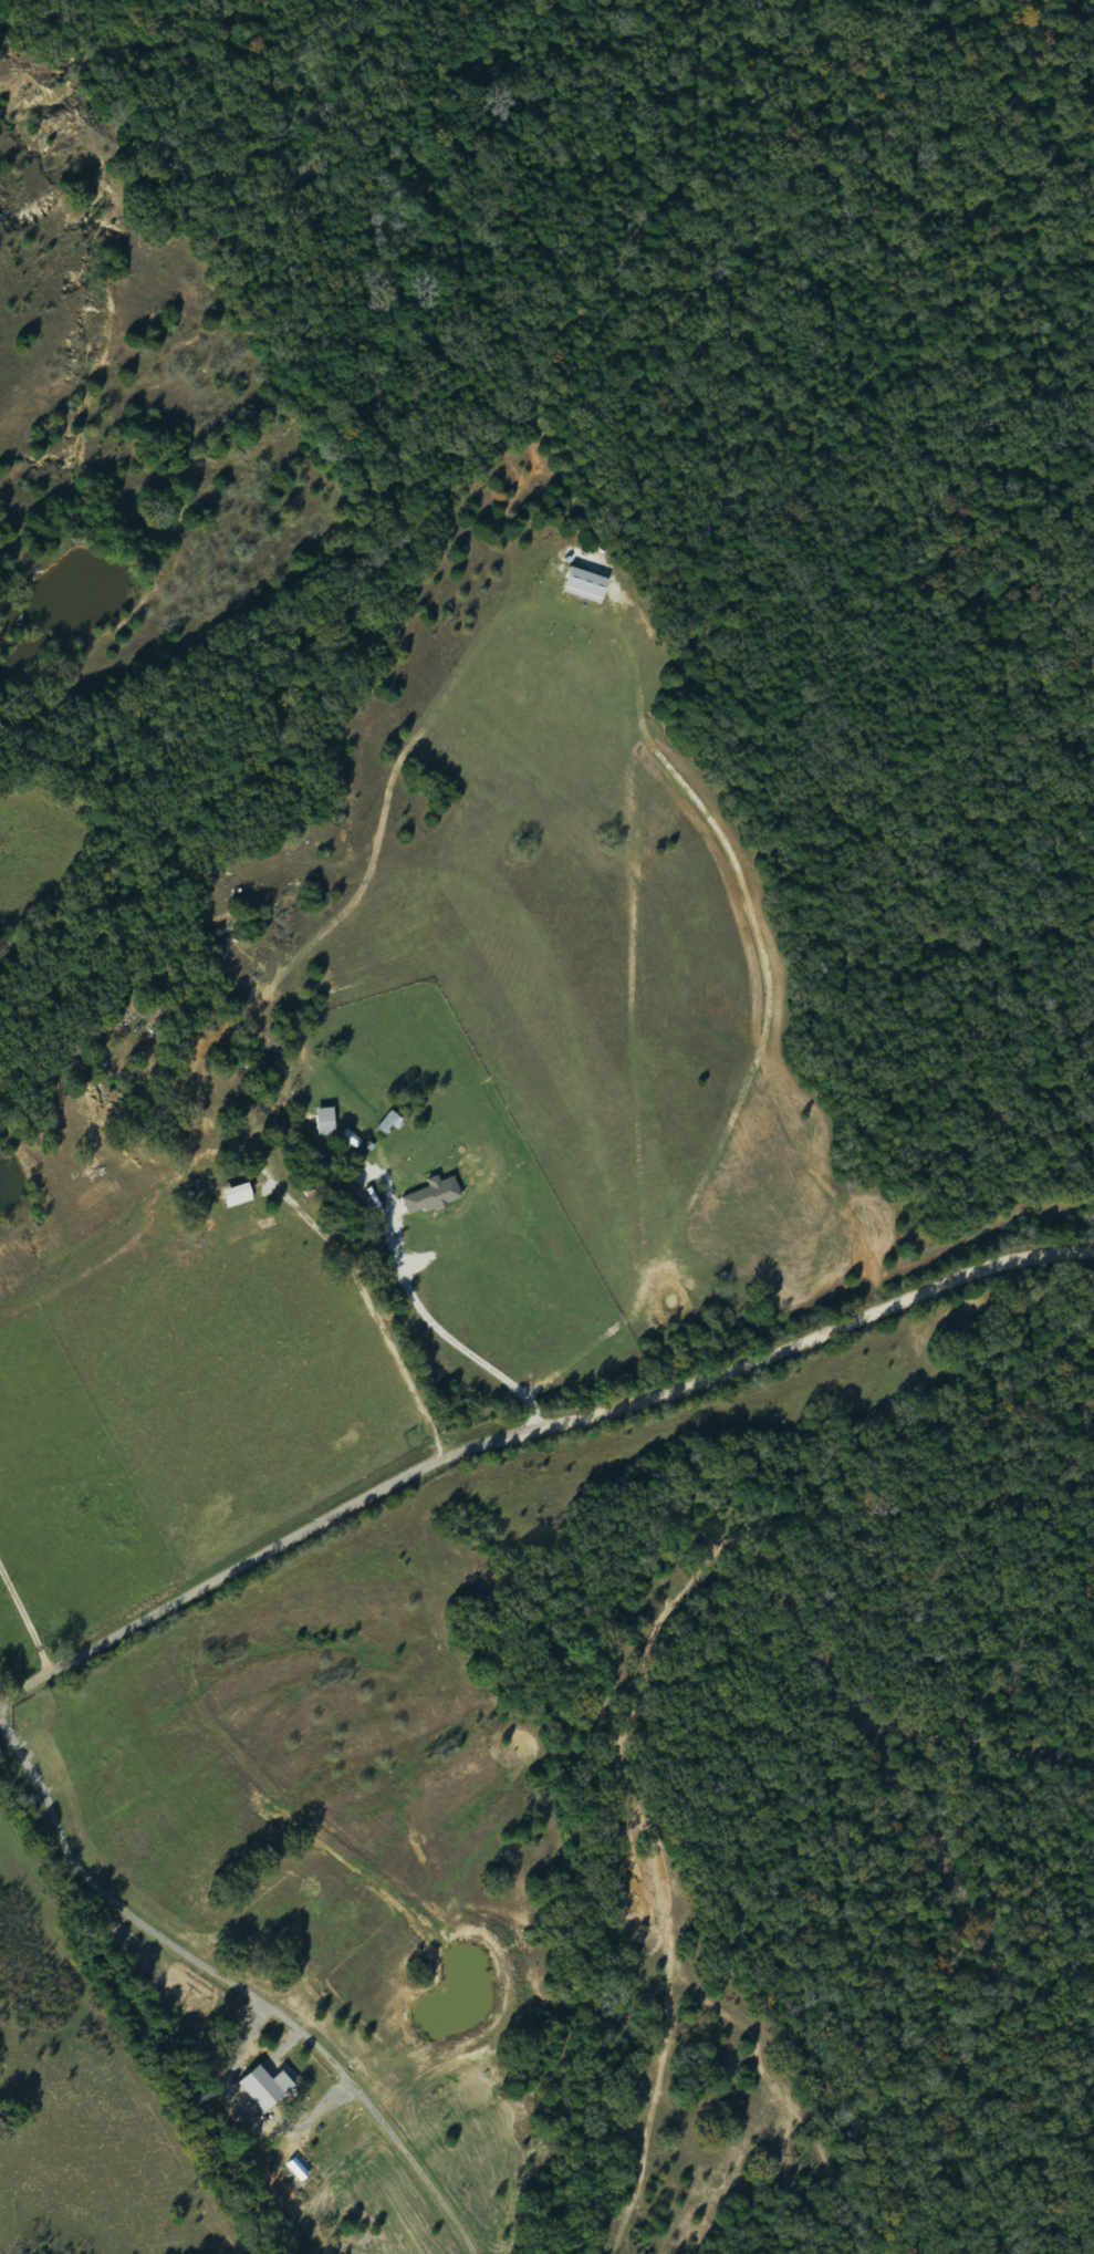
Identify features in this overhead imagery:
building: (587, 585)
building: (327, 1122)
building: (392, 1123)
building: (239, 1196)
building: (434, 1196)
road: (529, 1435)
building: (267, 2087)

